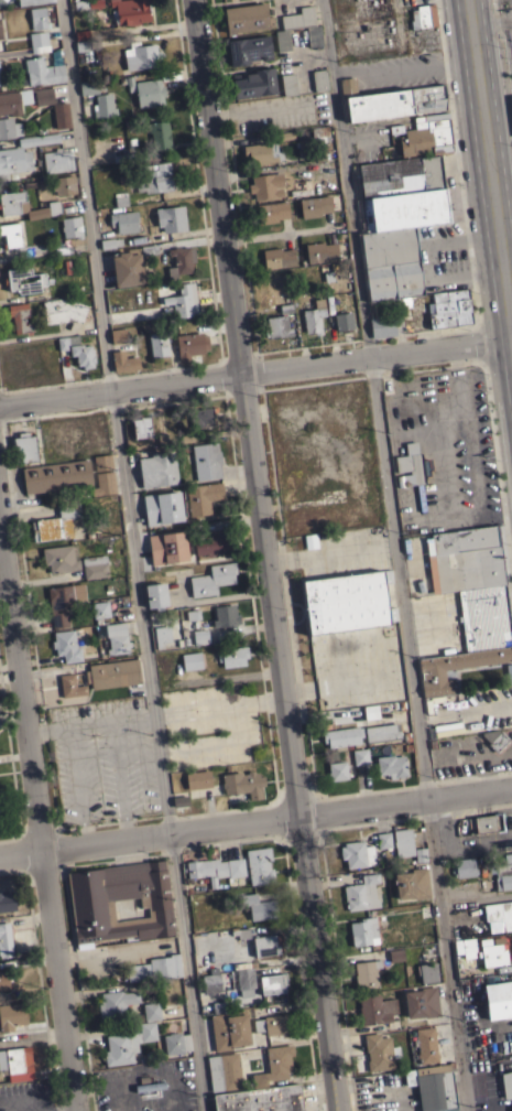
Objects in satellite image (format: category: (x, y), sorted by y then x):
building: (32, 2)
building: (88, 3)
building: (423, 15)
building: (39, 18)
building: (247, 18)
building: (119, 19)
building: (288, 28)
building: (0, 31)
building: (39, 42)
building: (83, 45)
road: (505, 46)
building: (248, 50)
building: (141, 56)
road: (403, 68)
building: (42, 72)
building: (319, 78)
building: (254, 83)
building: (288, 83)
building: (90, 86)
building: (348, 86)
building: (149, 91)
building: (43, 96)
building: (14, 101)
building: (396, 103)
building: (104, 106)
building: (510, 106)
building: (62, 115)
building: (9, 128)
building: (160, 134)
building: (427, 134)
building: (309, 139)
building: (22, 153)
building: (261, 153)
building: (131, 155)
road: (490, 157)
building: (57, 160)
building: (399, 174)
building: (153, 177)
building: (64, 184)
building: (266, 185)
building: (120, 198)
building: (25, 206)
building: (314, 206)
building: (405, 208)
building: (272, 212)
building: (171, 218)
building: (123, 222)
building: (72, 226)
building: (11, 234)
road: (276, 234)
building: (110, 242)
building: (62, 248)
building: (149, 249)
building: (322, 250)
building: (279, 256)
building: (181, 260)
building: (127, 268)
building: (22, 280)
building: (149, 292)
building: (183, 300)
building: (400, 303)
building: (449, 308)
building: (63, 310)
building: (19, 316)
building: (314, 316)
building: (344, 321)
building: (277, 325)
building: (381, 325)
building: (118, 335)
building: (66, 341)
building: (159, 344)
building: (190, 345)
building: (83, 354)
building: (123, 360)
road: (255, 373)
building: (203, 417)
building: (142, 425)
building: (24, 447)
building: (207, 461)
building: (102, 462)
building: (157, 470)
building: (411, 471)
building: (56, 475)
building: (104, 484)
building: (203, 497)
building: (162, 507)
building: (56, 524)
building: (311, 540)
building: (213, 543)
building: (167, 547)
road: (265, 554)
road: (395, 554)
road: (132, 555)
building: (59, 558)
building: (95, 565)
building: (213, 579)
building: (475, 582)
building: (156, 595)
building: (348, 602)
building: (61, 604)
building: (100, 610)
building: (226, 615)
building: (162, 635)
building: (200, 636)
building: (117, 637)
building: (66, 645)
building: (232, 656)
building: (192, 660)
building: (455, 667)
building: (112, 673)
building: (70, 686)
building: (371, 711)
road: (109, 715)
road: (46, 726)
building: (383, 732)
building: (342, 736)
building: (494, 738)
building: (360, 756)
building: (391, 766)
building: (337, 770)
road: (117, 778)
building: (198, 779)
building: (243, 784)
road: (74, 785)
building: (179, 800)
road: (39, 809)
building: (488, 822)
road: (255, 823)
building: (381, 840)
building: (403, 842)
building: (357, 854)
building: (420, 854)
building: (259, 864)
building: (236, 867)
building: (464, 867)
building: (207, 869)
building: (503, 871)
building: (412, 884)
building: (361, 893)
road: (476, 898)
building: (7, 900)
building: (91, 903)
building: (259, 907)
building: (425, 910)
building: (499, 916)
building: (362, 931)
building: (241, 932)
building: (6, 940)
building: (266, 943)
building: (464, 945)
road: (112, 952)
building: (491, 952)
building: (155, 968)
building: (426, 971)
building: (366, 972)
building: (4, 979)
building: (244, 980)
building: (210, 983)
building: (272, 983)
building: (498, 1000)
building: (422, 1002)
building: (116, 1005)
building: (219, 1006)
building: (375, 1008)
building: (151, 1011)
building: (11, 1015)
building: (272, 1024)
building: (229, 1029)
building: (146, 1031)
building: (176, 1043)
building: (426, 1045)
building: (120, 1048)
building: (379, 1051)
building: (15, 1059)
building: (274, 1065)
building: (225, 1071)
building: (148, 1083)
building: (506, 1083)
building: (434, 1086)
building: (261, 1099)
road: (15, 1103)
road: (53, 1105)
building: (510, 1108)
road: (32, 1109)

